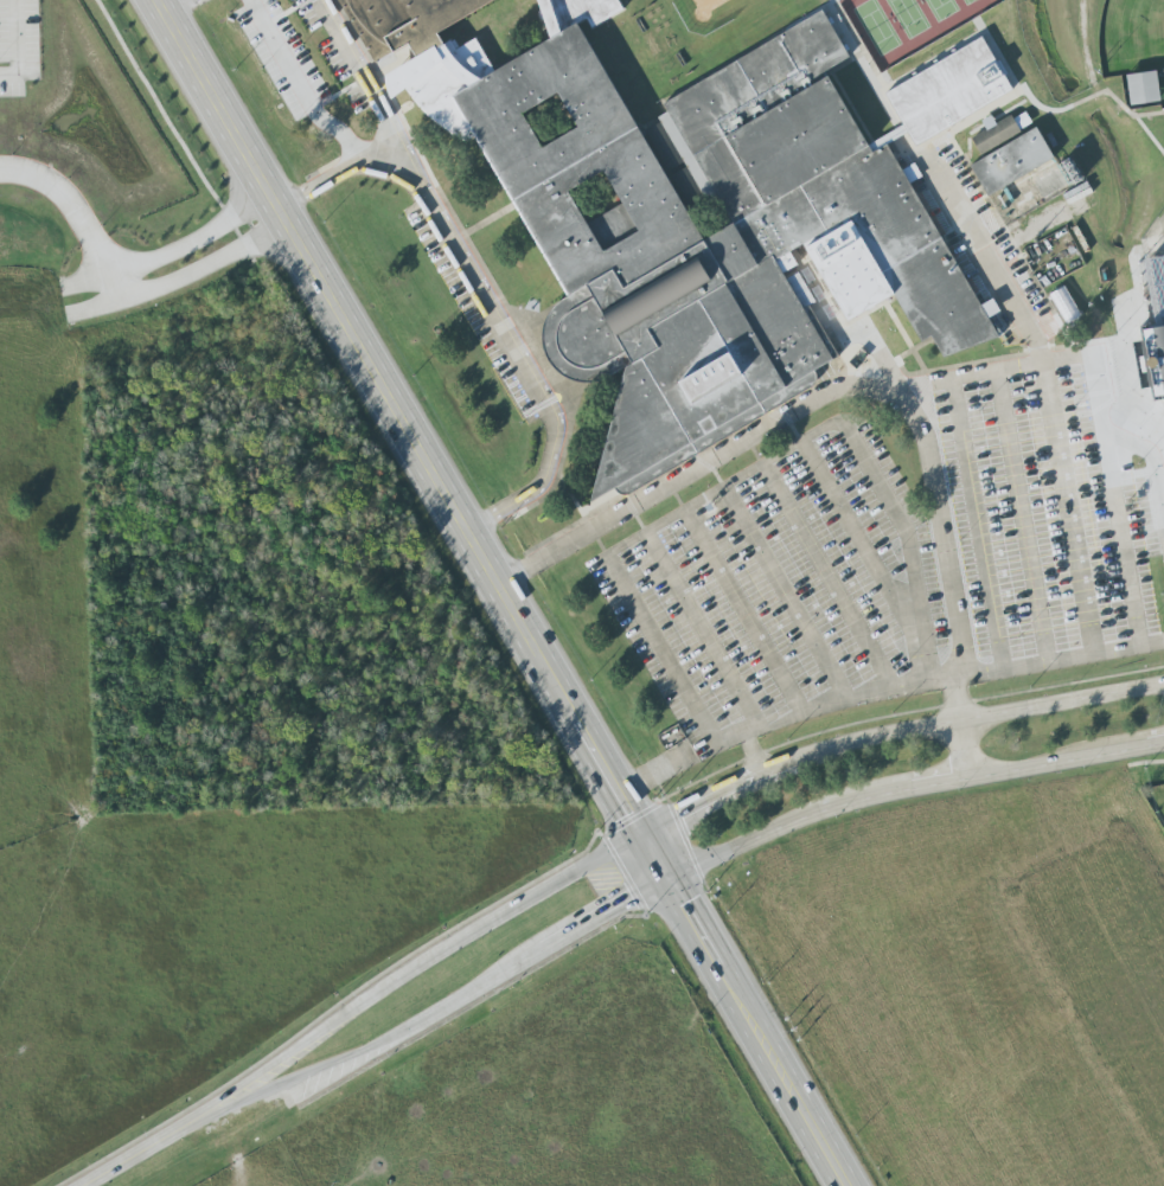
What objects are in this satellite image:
park: (968, 1)
park: (942, 7)
road: (184, 9)
road: (555, 13)
park: (909, 15)
building: (423, 20)
park: (877, 26)
park: (1132, 37)
road: (18, 44)
building: (655, 49)
parking lot: (339, 56)
building: (614, 58)
road: (658, 60)
road: (453, 69)
road: (877, 71)
road: (293, 88)
building: (1145, 88)
road: (466, 89)
building: (948, 91)
road: (652, 98)
building: (639, 102)
road: (987, 113)
road: (1053, 116)
building: (1000, 130)
building: (665, 147)
building: (1013, 161)
road: (391, 173)
road: (318, 191)
building: (691, 191)
building: (1083, 211)
road: (486, 223)
road: (1159, 233)
building: (708, 239)
parking lot: (980, 241)
building: (1070, 250)
road: (989, 258)
road: (203, 267)
road: (1138, 273)
road: (478, 278)
road: (116, 280)
road: (884, 300)
building: (1069, 307)
stadium: (1157, 310)
parking lot: (479, 312)
building: (1157, 315)
parking lot: (859, 331)
road: (916, 351)
road: (880, 385)
road: (925, 387)
road: (1140, 387)
road: (838, 389)
road: (914, 405)
road: (398, 416)
road: (750, 474)
parking lot: (1056, 498)
road: (1117, 500)
road: (1074, 507)
road: (1025, 517)
road: (862, 539)
road: (985, 550)
road: (826, 577)
parking lot: (782, 586)
road: (785, 594)
road: (746, 610)
road: (703, 633)
road: (1085, 653)
road: (834, 701)
road: (978, 717)
road: (967, 748)
road: (753, 754)
road: (780, 768)
road: (647, 776)
road: (907, 787)
road: (701, 802)
traffic signals: (640, 834)
road: (653, 857)
traffic signals: (666, 880)
road: (428, 955)
road: (455, 1002)
road: (755, 1033)
road: (158, 1142)

